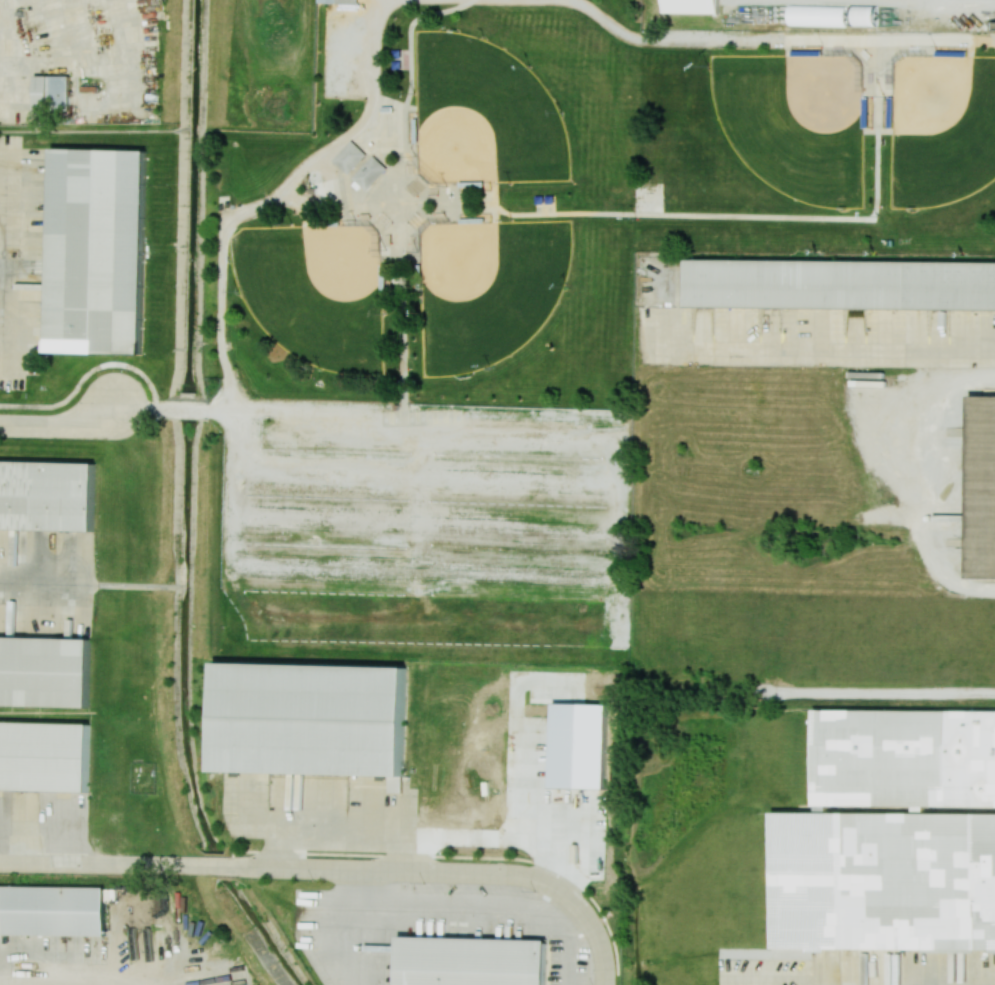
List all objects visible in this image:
building: (326, 1)
building: (347, 2)
road: (958, 2)
building: (691, 7)
building: (818, 15)
building: (863, 15)
road: (777, 40)
building: (397, 52)
building: (397, 64)
building: (51, 92)
park: (481, 114)
park: (795, 120)
park: (940, 128)
building: (348, 156)
building: (368, 171)
road: (400, 182)
road: (722, 215)
road: (3, 242)
building: (98, 251)
road: (414, 260)
building: (839, 284)
park: (486, 289)
park: (314, 292)
road: (827, 338)
road: (954, 378)
road: (138, 408)
road: (184, 408)
road: (226, 409)
road: (59, 424)
building: (981, 489)
building: (47, 495)
parking lot: (417, 504)
road: (40, 574)
building: (45, 671)
building: (312, 716)
building: (45, 756)
road: (298, 869)
building: (885, 880)
building: (52, 910)
road: (358, 929)
road: (604, 944)
building: (473, 961)
road: (45, 980)

